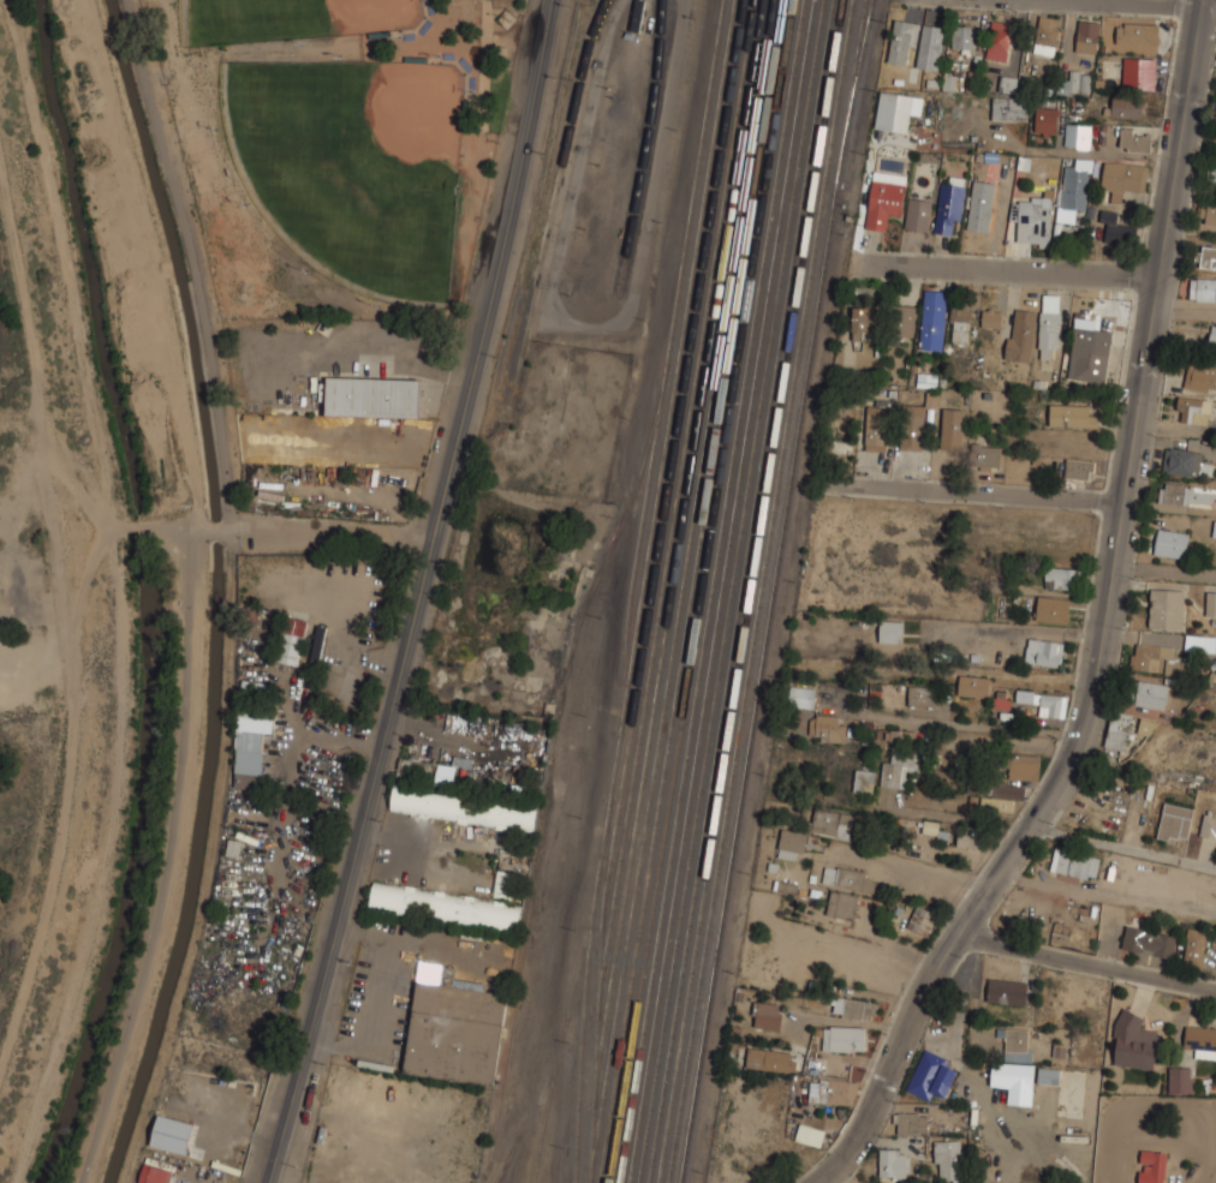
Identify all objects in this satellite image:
road: (1160, 2)
building: (638, 16)
park: (293, 19)
building: (1137, 32)
building: (962, 35)
building: (1047, 35)
building: (1087, 36)
building: (999, 40)
building: (902, 41)
building: (1139, 71)
building: (1074, 82)
building: (1008, 84)
railway: (853, 91)
railway: (852, 92)
building: (1009, 107)
building: (1126, 107)
building: (893, 110)
building: (1045, 119)
building: (1077, 135)
building: (1134, 138)
railway: (644, 145)
park: (336, 147)
park: (353, 162)
building: (1214, 172)
building: (1122, 175)
building: (1074, 187)
building: (884, 198)
building: (949, 204)
building: (980, 205)
railway: (548, 208)
building: (1208, 211)
building: (918, 213)
building: (1035, 221)
building: (1117, 229)
railway: (716, 241)
railway: (781, 241)
railway: (801, 241)
railway: (737, 243)
railway: (756, 243)
railway: (767, 243)
building: (1205, 256)
road: (192, 263)
road: (1005, 268)
railway: (786, 273)
railway: (741, 274)
railway: (721, 275)
railway: (768, 275)
building: (1202, 288)
building: (901, 318)
building: (932, 318)
building: (991, 318)
building: (865, 319)
building: (959, 322)
building: (1049, 324)
building: (1020, 333)
building: (1212, 337)
building: (1089, 346)
railway: (679, 358)
railway: (806, 376)
building: (1200, 376)
building: (925, 378)
building: (372, 398)
building: (1192, 408)
building: (1073, 414)
building: (877, 426)
building: (912, 428)
building: (952, 428)
building: (842, 430)
railway: (675, 452)
building: (986, 455)
building: (1181, 461)
building: (1079, 467)
building: (1186, 492)
road: (972, 494)
road: (213, 530)
road: (329, 536)
building: (1172, 543)
railway: (608, 545)
road: (1166, 572)
building: (1061, 576)
railway: (631, 588)
railway: (758, 591)
road: (419, 592)
building: (1210, 603)
building: (1053, 608)
building: (1167, 608)
road: (1104, 627)
building: (890, 629)
building: (291, 640)
building: (317, 645)
building: (1044, 651)
building: (1146, 657)
building: (1178, 665)
building: (973, 685)
building: (257, 686)
building: (1150, 693)
building: (920, 694)
building: (801, 695)
building: (1045, 701)
building: (827, 725)
building: (1146, 727)
building: (1119, 730)
railway: (640, 734)
building: (889, 735)
building: (250, 748)
road: (71, 754)
building: (1024, 766)
building: (896, 767)
building: (864, 781)
building: (1002, 796)
building: (464, 809)
railway: (638, 815)
road: (958, 818)
building: (831, 820)
building: (1174, 821)
railway: (645, 825)
building: (1208, 826)
building: (936, 829)
railway: (673, 834)
railway: (690, 834)
railway: (713, 834)
railway: (664, 835)
building: (965, 837)
building: (791, 843)
road: (1122, 847)
road: (168, 861)
building: (1073, 862)
railway: (696, 865)
railway: (649, 866)
railway: (675, 866)
road: (908, 867)
railway: (728, 876)
building: (847, 877)
building: (503, 884)
road: (1108, 886)
building: (841, 903)
building: (445, 907)
building: (922, 919)
building: (1149, 942)
building: (1194, 946)
road: (1085, 962)
building: (1007, 992)
railway: (598, 996)
building: (852, 1006)
building: (768, 1015)
building: (454, 1030)
railway: (562, 1032)
building: (839, 1036)
building: (1200, 1041)
building: (1134, 1042)
building: (1015, 1044)
building: (763, 1058)
building: (1048, 1076)
building: (1180, 1080)
building: (1014, 1082)
building: (833, 1089)
railway: (534, 1106)
building: (912, 1124)
building: (172, 1134)
building: (810, 1135)
building: (948, 1160)
building: (893, 1164)
building: (1152, 1166)
railway: (501, 1171)
building: (154, 1175)

